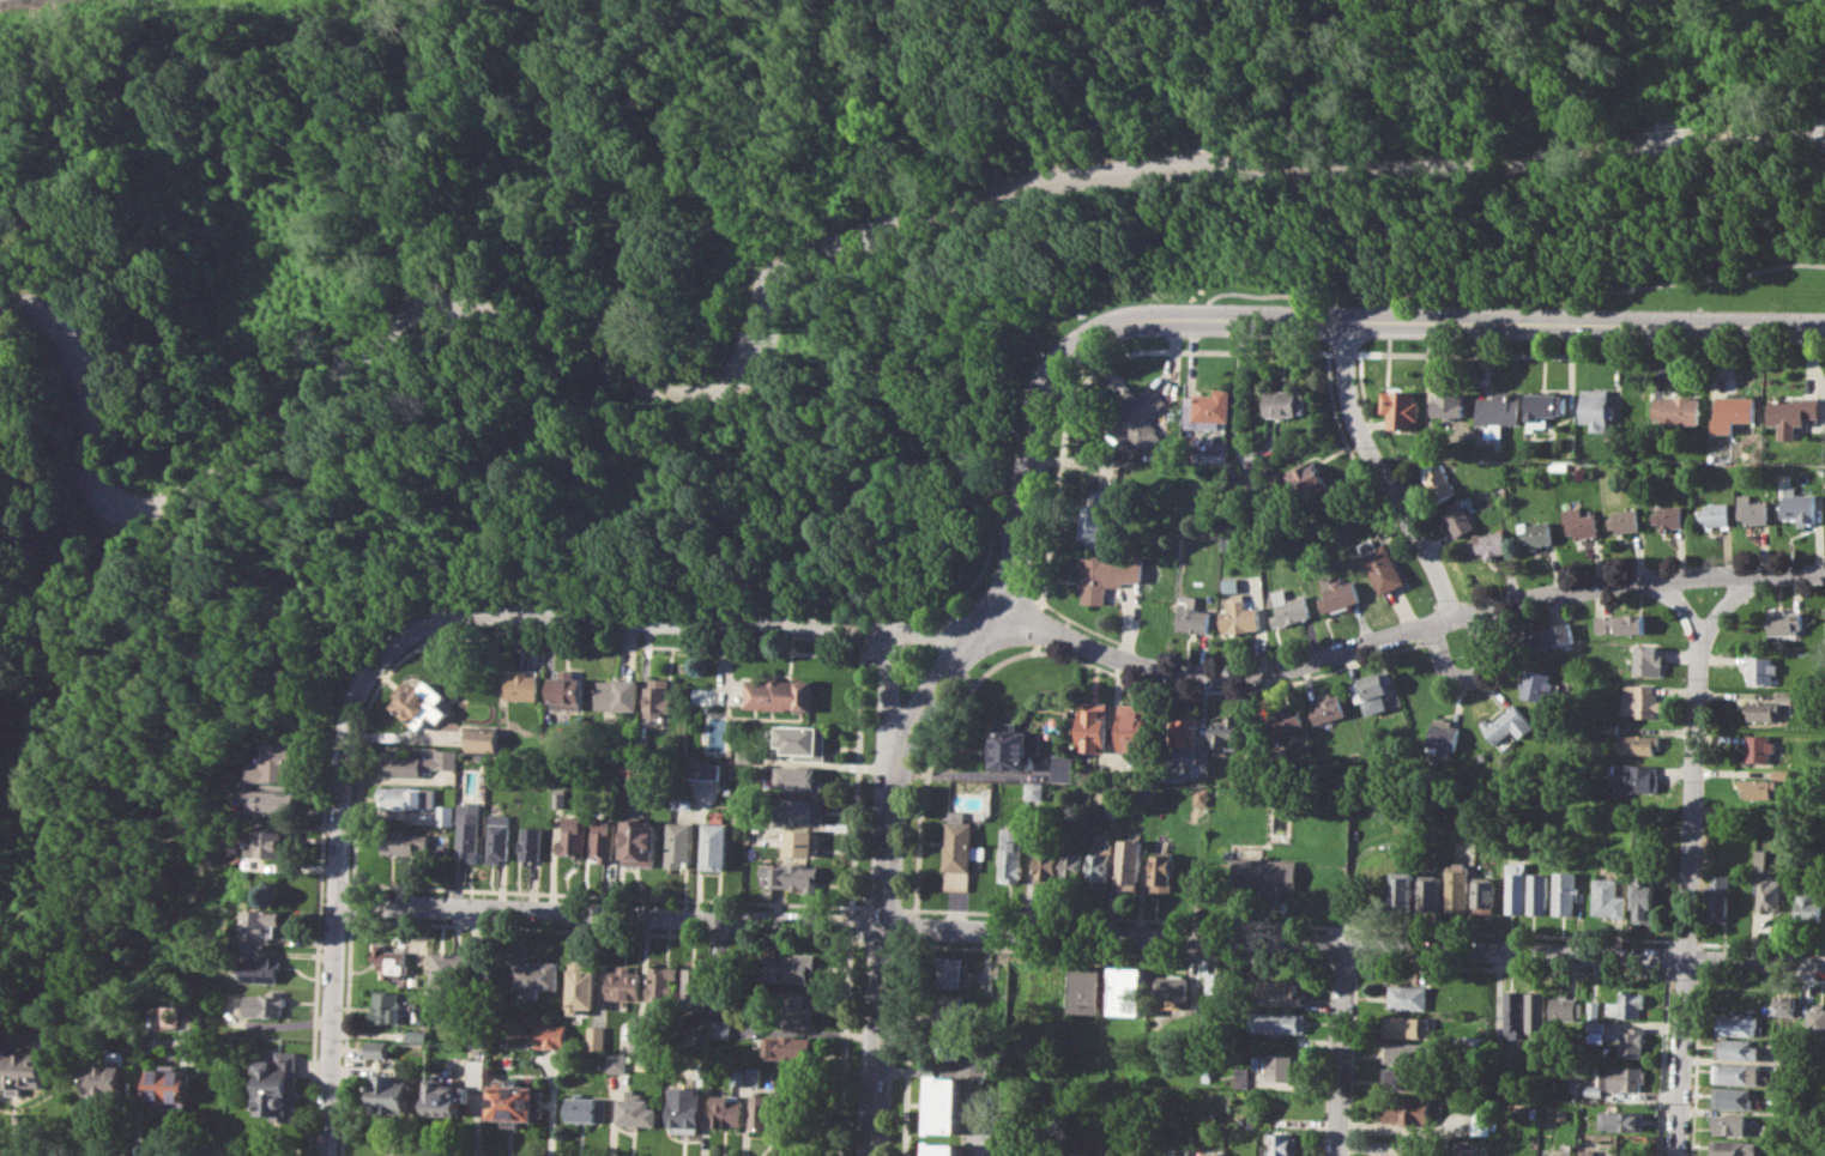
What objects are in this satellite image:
road: (779, 284)
road: (1513, 295)
park: (713, 301)
road: (1198, 319)
road: (1294, 321)
road: (1076, 393)
building: (1288, 403)
building: (1451, 404)
building: (1403, 407)
building: (1547, 407)
building: (1599, 407)
building: (1209, 408)
building: (1679, 408)
building: (1135, 412)
building: (1734, 412)
building: (1500, 413)
building: (1794, 413)
building: (1559, 465)
road: (1382, 473)
building: (1310, 480)
building: (1439, 480)
building: (1800, 507)
building: (1754, 509)
building: (1716, 513)
building: (1095, 516)
building: (1670, 516)
road: (1020, 518)
building: (1461, 518)
building: (1626, 520)
building: (1581, 522)
building: (1536, 533)
building: (1493, 543)
building: (1384, 564)
building: (1108, 574)
building: (1232, 583)
building: (1340, 593)
road: (961, 594)
road: (1040, 603)
road: (1721, 604)
road: (1051, 606)
building: (1291, 607)
building: (1193, 615)
building: (1241, 616)
road: (672, 621)
building: (1784, 621)
road: (1038, 623)
building: (1619, 624)
road: (868, 631)
road: (1396, 631)
building: (1548, 635)
road: (960, 648)
building: (1643, 658)
road: (1443, 661)
building: (1760, 668)
building: (520, 684)
building: (1537, 684)
building: (566, 686)
building: (1373, 690)
building: (776, 694)
building: (1782, 694)
building: (617, 695)
building: (659, 696)
building: (1639, 701)
building: (421, 702)
building: (1330, 708)
building: (1760, 709)
building: (1288, 720)
road: (887, 722)
building: (1134, 725)
building: (1505, 725)
building: (1094, 726)
building: (1607, 727)
building: (1229, 731)
building: (1442, 734)
building: (1186, 736)
building: (484, 738)
building: (802, 740)
building: (1637, 743)
building: (1013, 745)
building: (1757, 748)
building: (745, 755)
road: (933, 757)
building: (274, 763)
building: (417, 763)
building: (1064, 765)
building: (630, 768)
building: (703, 769)
building: (1174, 769)
building: (1632, 776)
building: (799, 780)
building: (1755, 787)
building: (1033, 789)
building: (1107, 793)
building: (1142, 794)
building: (409, 797)
building: (557, 797)
building: (1201, 797)
building: (268, 800)
building: (682, 803)
building: (802, 810)
building: (446, 813)
building: (743, 817)
building: (469, 830)
building: (574, 836)
building: (498, 837)
building: (604, 839)
building: (802, 841)
building: (404, 842)
building: (531, 842)
building: (640, 842)
building: (270, 843)
building: (681, 843)
building: (715, 845)
building: (960, 851)
building: (1010, 855)
building: (1760, 858)
building: (1131, 859)
building: (1101, 860)
road: (1688, 861)
building: (1075, 865)
building: (1049, 866)
building: (1166, 872)
building: (792, 874)
building: (1268, 874)
building: (1456, 886)
building: (1515, 886)
building: (1401, 891)
building: (1428, 892)
building: (1537, 892)
building: (1564, 892)
building: (1482, 894)
building: (1642, 895)
building: (1607, 896)
building: (1771, 896)
building: (1717, 897)
road: (337, 898)
road: (729, 900)
road: (351, 902)
road: (883, 903)
road: (856, 907)
road: (883, 907)
building: (1808, 907)
road: (915, 912)
building: (259, 921)
road: (1294, 925)
road: (915, 926)
road: (1080, 933)
road: (1684, 942)
road: (1699, 945)
road: (1760, 945)
road: (1124, 952)
road: (318, 958)
road: (1699, 958)
building: (391, 961)
road: (1343, 961)
building: (794, 966)
road: (1510, 968)
building: (262, 969)
building: (949, 972)
road: (1681, 975)
building: (451, 976)
building: (536, 976)
road: (1758, 979)
building: (624, 982)
building: (1216, 985)
building: (582, 986)
building: (663, 986)
building: (1171, 987)
building: (697, 989)
building: (1089, 989)
building: (1130, 989)
building: (1279, 992)
building: (1407, 997)
building: (1627, 1001)
building: (264, 1004)
building: (1787, 1005)
building: (387, 1006)
building: (949, 1007)
building: (1565, 1007)
building: (791, 1009)
building: (1593, 1009)
building: (1535, 1012)
building: (1512, 1015)
building: (1277, 1022)
road: (272, 1023)
building: (1739, 1024)
building: (1409, 1025)
building: (1815, 1025)
building: (724, 1028)
building: (476, 1029)
building: (1594, 1030)
building: (418, 1034)
building: (550, 1034)
road: (345, 1036)
building: (596, 1036)
road: (20, 1040)
building: (1631, 1041)
building: (645, 1042)
building: (949, 1046)
building: (790, 1047)
road: (910, 1047)
building: (377, 1048)
building: (1736, 1048)
road: (1338, 1049)
building: (1407, 1052)
building: (1257, 1061)
road: (1694, 1061)
building: (617, 1063)
road: (1661, 1065)
building: (1283, 1067)
building: (24, 1070)
road: (140, 1071)
building: (476, 1072)
building: (1736, 1072)
building: (739, 1075)
building: (755, 1075)
building: (1205, 1076)
building: (1238, 1076)
building: (1406, 1078)
building: (1625, 1078)
building: (105, 1081)
building: (279, 1087)
building: (169, 1089)
building: (1593, 1090)
building: (392, 1094)
building: (1733, 1097)
building: (443, 1098)
building: (514, 1102)
road: (555, 1102)
building: (947, 1103)
building: (687, 1107)
building: (587, 1109)
building: (637, 1109)
building: (727, 1109)
building: (1407, 1109)
building: (762, 1112)
building: (1535, 1112)
building: (1563, 1114)
building: (1480, 1118)
building: (1621, 1119)
road: (745, 1122)
building: (1730, 1125)
building: (1281, 1143)
building: (1728, 1148)
building: (944, 1149)
building: (1179, 1150)
road: (70, 1152)
building: (1588, 1152)
building: (1084, 1154)
building: (1213, 1154)
building: (1389, 1155)
building: (1420, 1155)
building: (1458, 1155)
building: (1548, 1155)

